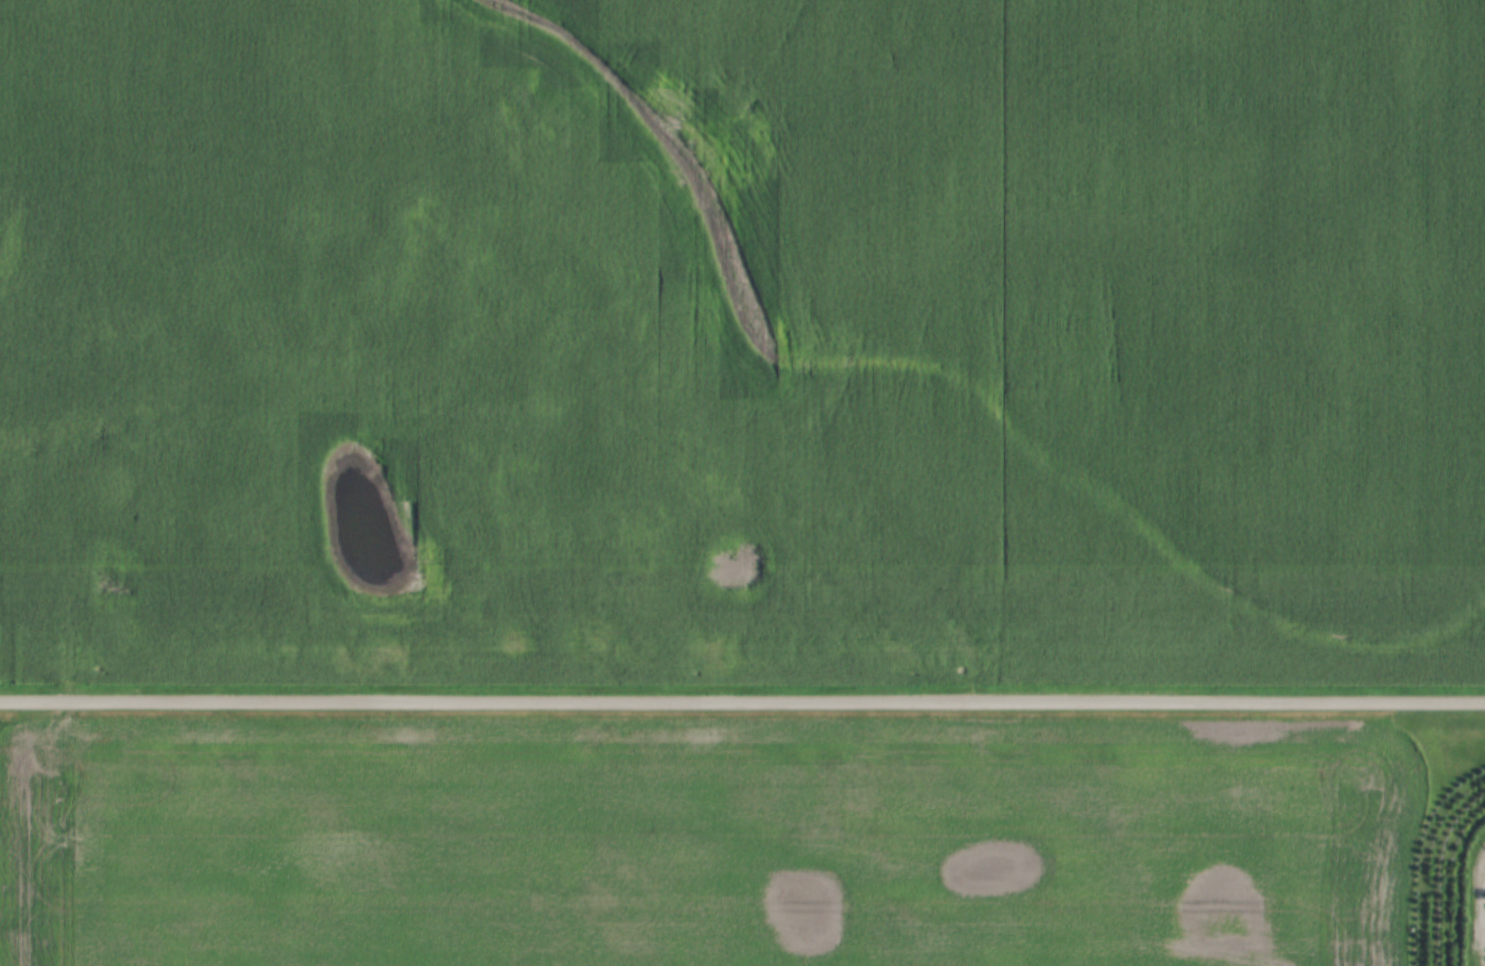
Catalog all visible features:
road: (742, 705)

